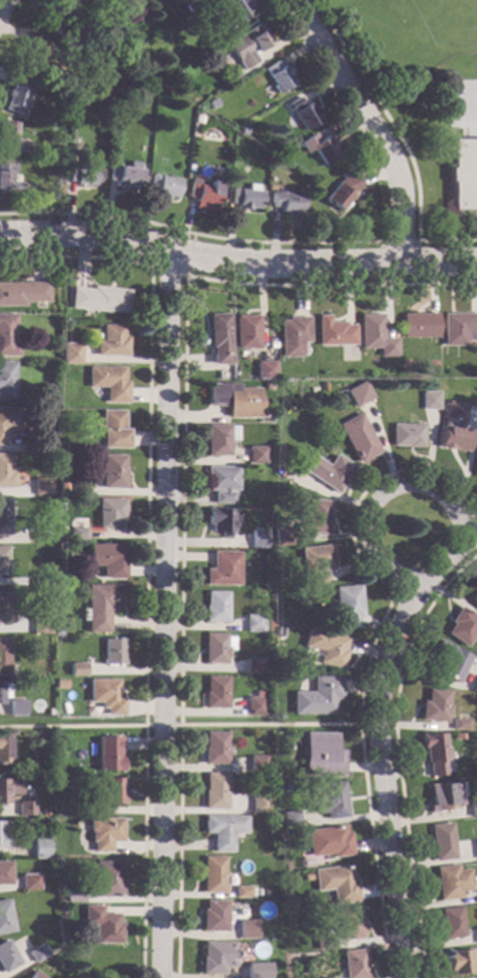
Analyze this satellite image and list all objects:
road: (1, 2)
park: (413, 4)
building: (231, 11)
building: (95, 14)
building: (54, 17)
park: (396, 37)
building: (246, 46)
building: (33, 55)
building: (176, 75)
building: (276, 76)
building: (15, 96)
road: (467, 100)
building: (210, 103)
building: (63, 106)
building: (302, 113)
road: (371, 123)
building: (9, 137)
road: (398, 139)
building: (318, 147)
building: (56, 149)
building: (70, 152)
building: (276, 164)
building: (463, 174)
building: (81, 175)
building: (123, 175)
building: (3, 176)
building: (163, 185)
building: (251, 187)
building: (341, 191)
building: (202, 192)
building: (244, 198)
building: (285, 202)
road: (189, 232)
road: (417, 243)
road: (237, 262)
road: (185, 271)
building: (21, 293)
building: (97, 299)
building: (418, 325)
building: (458, 328)
building: (244, 332)
building: (332, 332)
building: (6, 335)
building: (291, 335)
building: (374, 335)
building: (217, 337)
building: (109, 341)
building: (69, 354)
building: (223, 369)
building: (262, 370)
building: (6, 380)
building: (107, 382)
building: (266, 386)
building: (352, 387)
building: (233, 400)
building: (429, 400)
building: (8, 420)
building: (453, 427)
building: (110, 429)
building: (406, 435)
building: (361, 437)
building: (219, 439)
road: (9, 447)
building: (255, 455)
building: (475, 461)
building: (324, 470)
building: (5, 471)
building: (111, 472)
road: (182, 480)
building: (221, 482)
building: (76, 485)
building: (41, 486)
road: (377, 496)
building: (109, 513)
building: (4, 517)
building: (316, 517)
road: (465, 517)
building: (219, 520)
building: (40, 533)
building: (77, 533)
building: (281, 536)
building: (258, 539)
road: (146, 546)
road: (429, 546)
building: (3, 560)
building: (106, 560)
building: (314, 562)
building: (222, 569)
building: (40, 581)
road: (400, 582)
building: (474, 597)
building: (100, 605)
building: (215, 606)
building: (345, 606)
building: (5, 607)
road: (163, 614)
building: (254, 623)
building: (40, 625)
building: (460, 626)
building: (216, 647)
building: (325, 647)
building: (112, 651)
building: (3, 656)
road: (367, 658)
building: (450, 661)
building: (253, 664)
building: (76, 668)
building: (474, 684)
building: (3, 690)
building: (214, 692)
building: (256, 693)
building: (104, 696)
building: (316, 696)
building: (253, 706)
building: (433, 706)
building: (15, 707)
building: (458, 723)
road: (188, 725)
road: (379, 739)
building: (5, 748)
building: (213, 748)
building: (107, 753)
road: (396, 753)
building: (433, 753)
building: (320, 754)
building: (256, 763)
building: (57, 768)
building: (55, 779)
building: (8, 789)
building: (111, 791)
building: (214, 791)
building: (443, 796)
building: (328, 800)
building: (258, 803)
building: (472, 806)
building: (25, 808)
building: (86, 809)
building: (74, 810)
building: (288, 818)
building: (222, 830)
building: (103, 833)
building: (295, 835)
building: (4, 836)
building: (327, 841)
building: (441, 841)
building: (475, 848)
building: (39, 849)
building: (5, 872)
building: (212, 874)
building: (106, 878)
building: (450, 881)
building: (29, 882)
building: (334, 883)
building: (241, 891)
building: (72, 893)
building: (213, 915)
building: (5, 917)
building: (450, 922)
building: (347, 923)
building: (101, 924)
building: (247, 930)
building: (474, 937)
building: (321, 942)
building: (37, 953)
building: (6, 956)
building: (216, 957)
building: (457, 961)
building: (352, 964)
building: (257, 970)
building: (33, 975)

